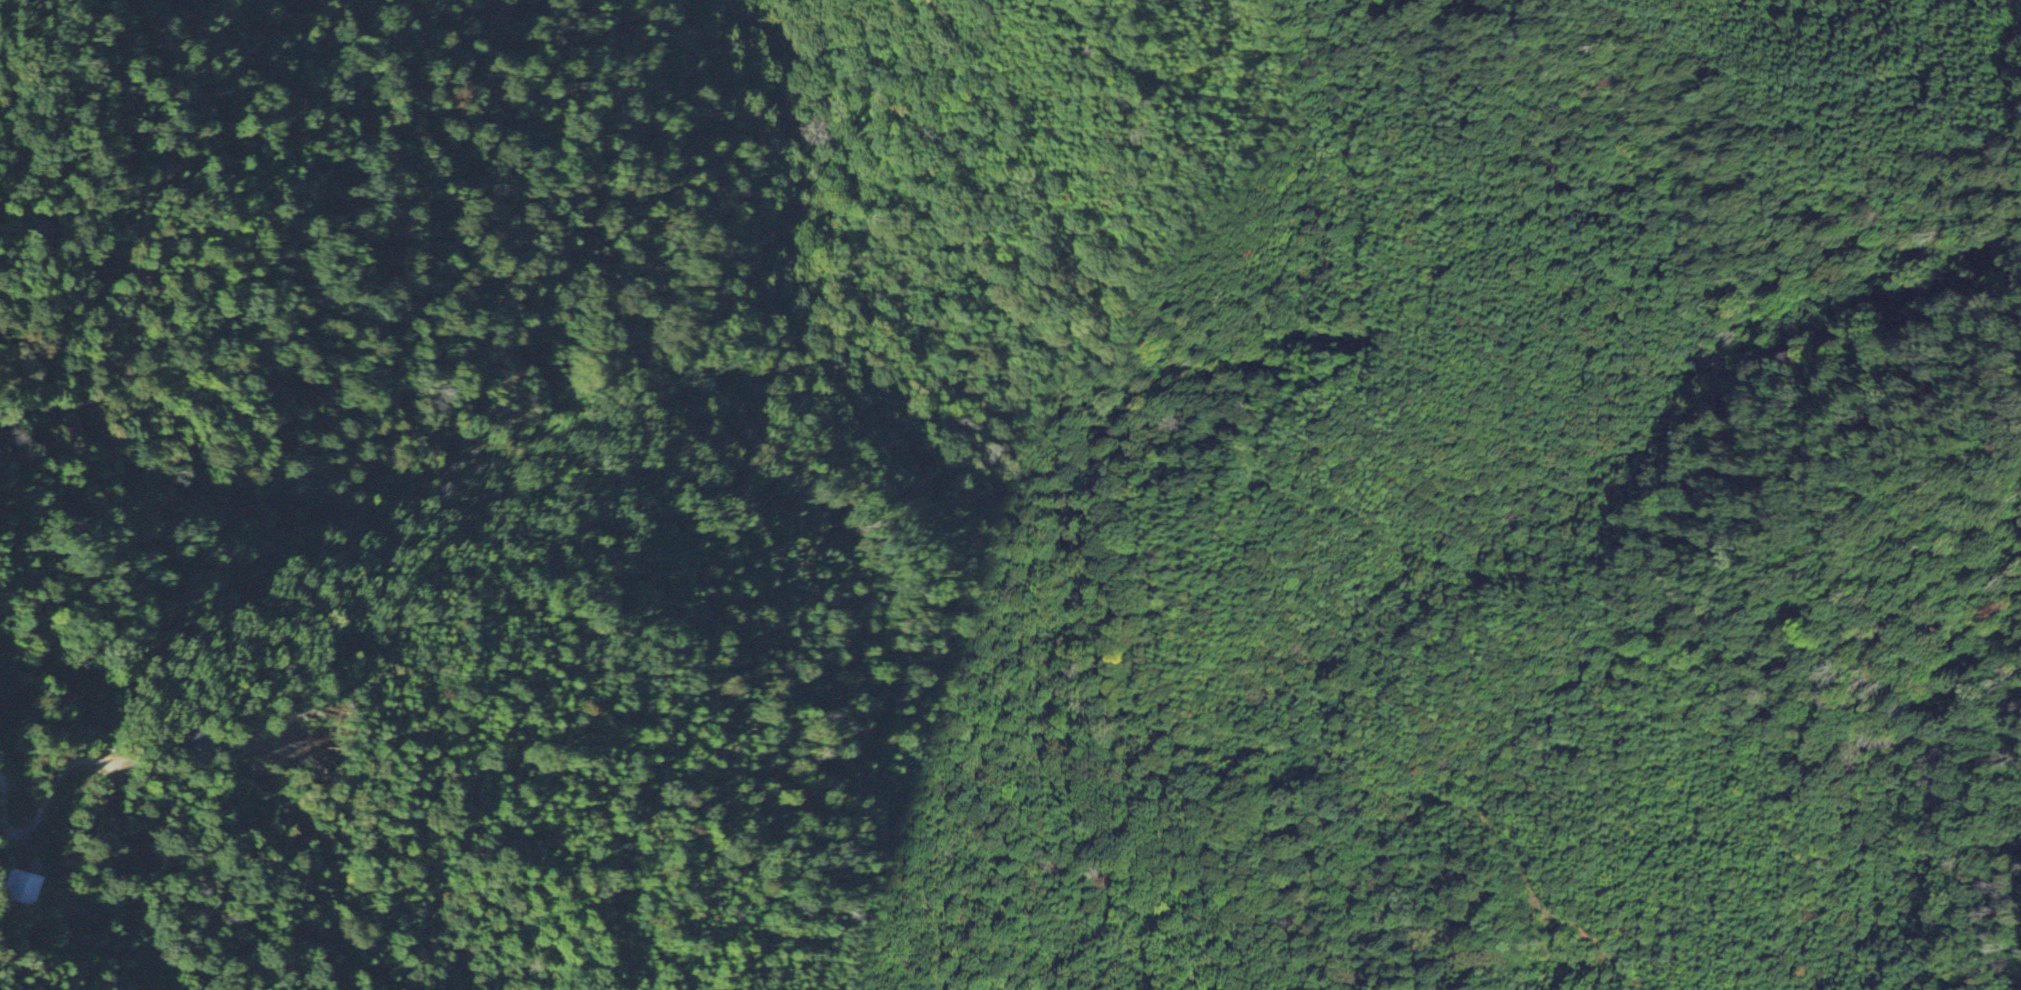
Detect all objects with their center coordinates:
road: (39, 810)

